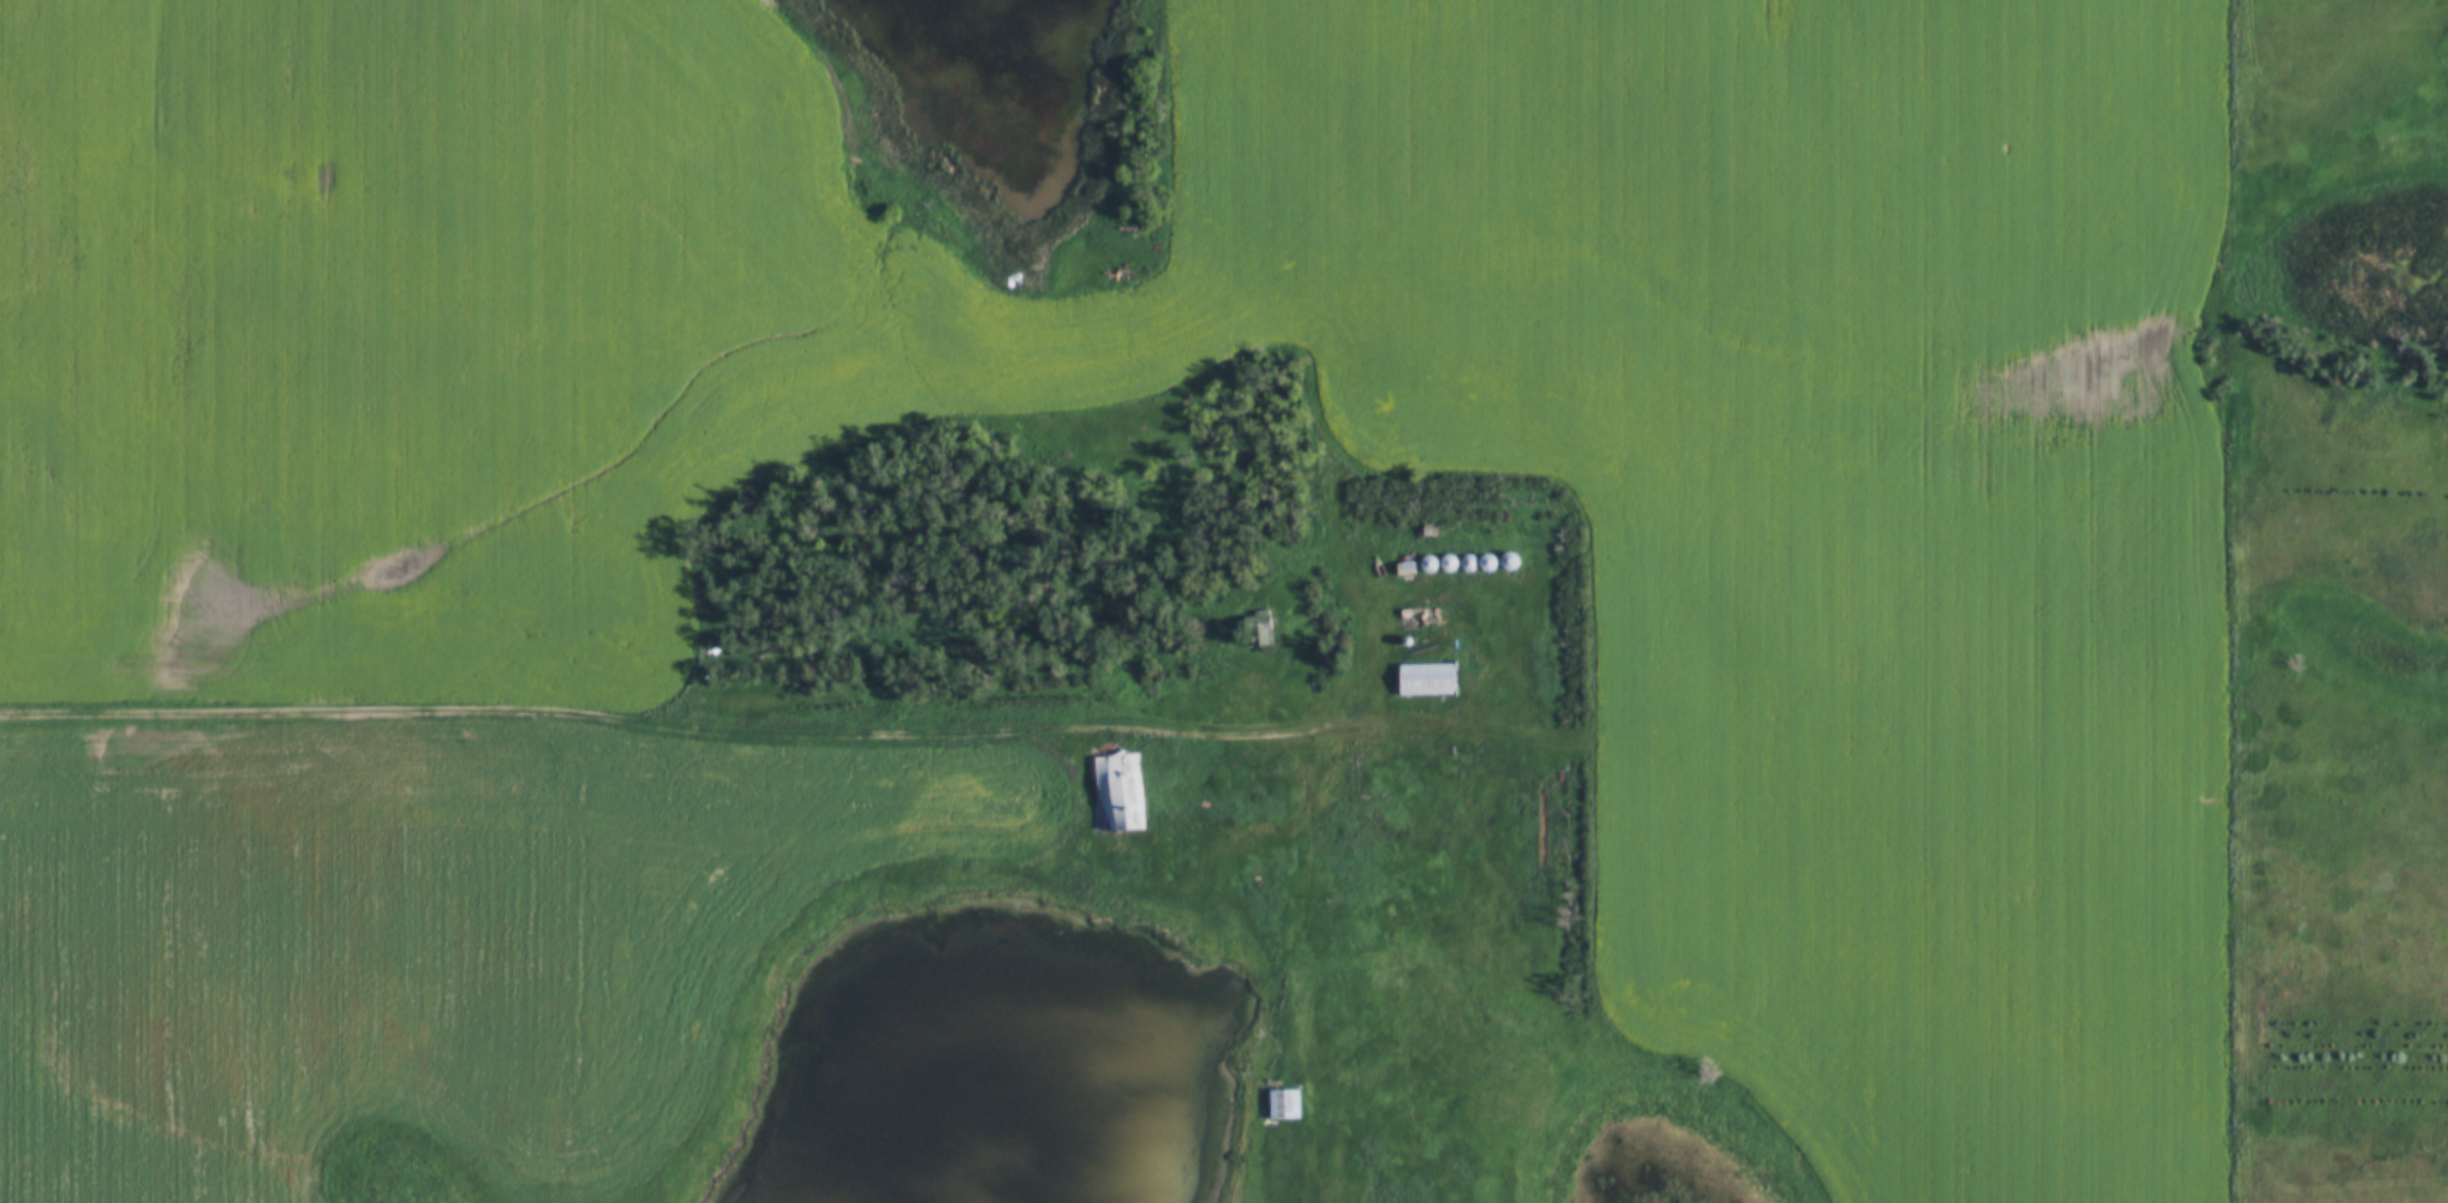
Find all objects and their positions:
building: (1407, 568)
building: (1271, 630)
building: (1428, 680)
road: (751, 729)
building: (1112, 791)
building: (1285, 1103)

